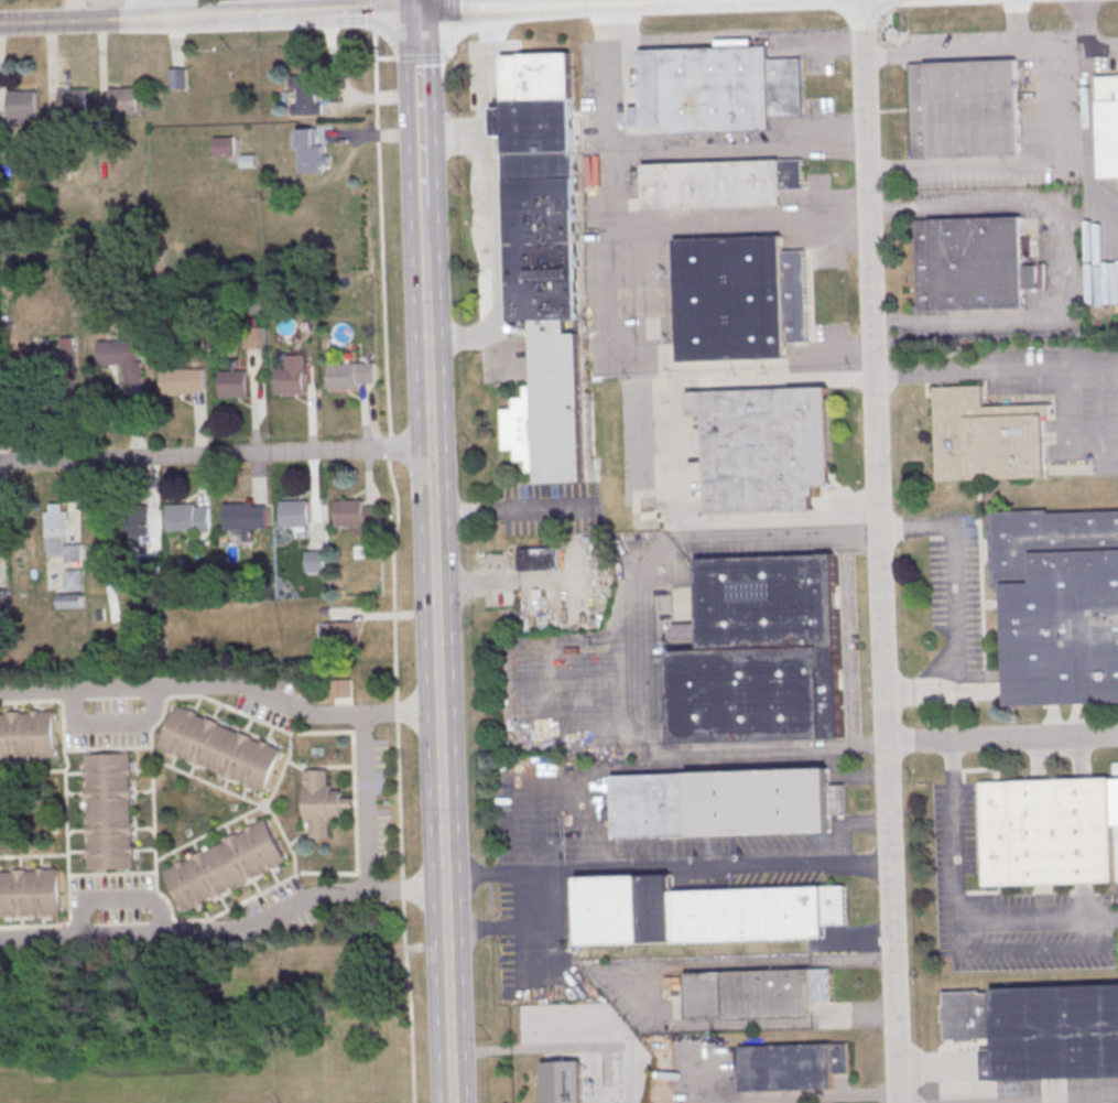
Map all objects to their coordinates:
road: (677, 1)
road: (704, 1)
road: (413, 4)
road: (188, 9)
traffic signals: (414, 10)
road: (77, 11)
road: (339, 13)
road: (373, 15)
road: (451, 17)
road: (1014, 25)
road: (738, 42)
road: (990, 51)
road: (492, 73)
building: (715, 88)
building: (306, 98)
building: (123, 104)
building: (22, 107)
road: (417, 107)
building: (963, 108)
building: (73, 109)
building: (1107, 123)
road: (741, 144)
building: (208, 147)
building: (312, 150)
building: (9, 151)
road: (1017, 166)
building: (718, 183)
road: (745, 223)
road: (421, 226)
road: (488, 237)
building: (543, 256)
road: (1063, 261)
building: (970, 263)
building: (738, 296)
road: (622, 310)
building: (54, 354)
building: (123, 357)
road: (1035, 370)
building: (350, 374)
building: (292, 375)
building: (183, 379)
building: (234, 383)
building: (988, 435)
building: (763, 446)
road: (680, 453)
road: (214, 455)
road: (513, 508)
building: (349, 511)
building: (295, 517)
building: (245, 519)
building: (188, 520)
building: (141, 525)
road: (777, 534)
building: (59, 538)
road: (880, 551)
building: (539, 558)
building: (315, 561)
road: (398, 566)
road: (433, 567)
building: (74, 583)
road: (956, 597)
building: (1057, 604)
building: (70, 605)
road: (652, 637)
building: (759, 652)
road: (221, 684)
building: (343, 688)
building: (26, 733)
road: (1002, 740)
building: (220, 747)
road: (766, 753)
road: (855, 774)
road: (355, 801)
building: (726, 802)
building: (322, 803)
road: (363, 803)
road: (260, 804)
road: (152, 809)
building: (108, 810)
road: (65, 812)
road: (849, 824)
building: (1046, 831)
road: (956, 839)
road: (664, 863)
building: (225, 864)
road: (524, 870)
building: (29, 891)
parking lot: (112, 895)
parking lot: (1006, 907)
building: (701, 910)
road: (501, 926)
road: (225, 931)
road: (1108, 942)
building: (748, 995)
road: (447, 996)
building: (1041, 1036)
building: (792, 1066)
road: (947, 1066)
building: (563, 1081)
parking lot: (1052, 1091)
road: (804, 1097)
road: (1071, 1101)

